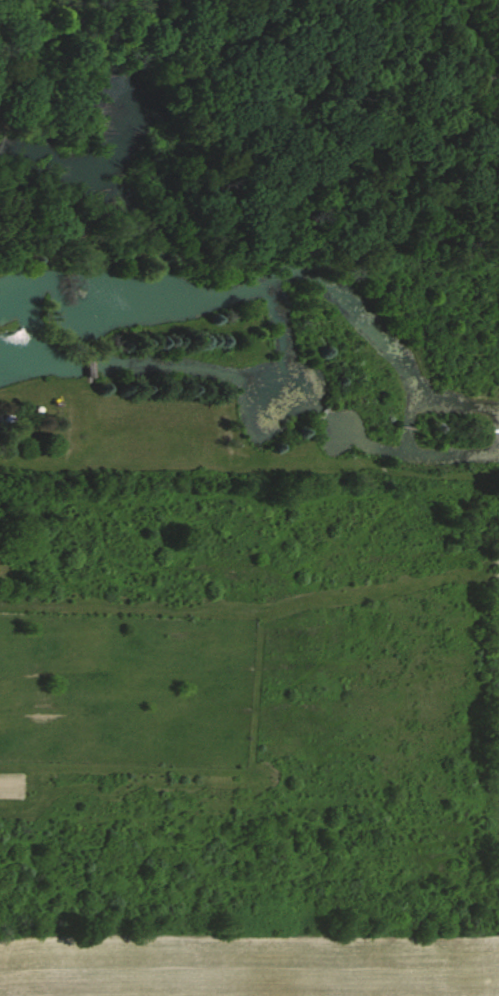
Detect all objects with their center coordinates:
road: (470, 45)

